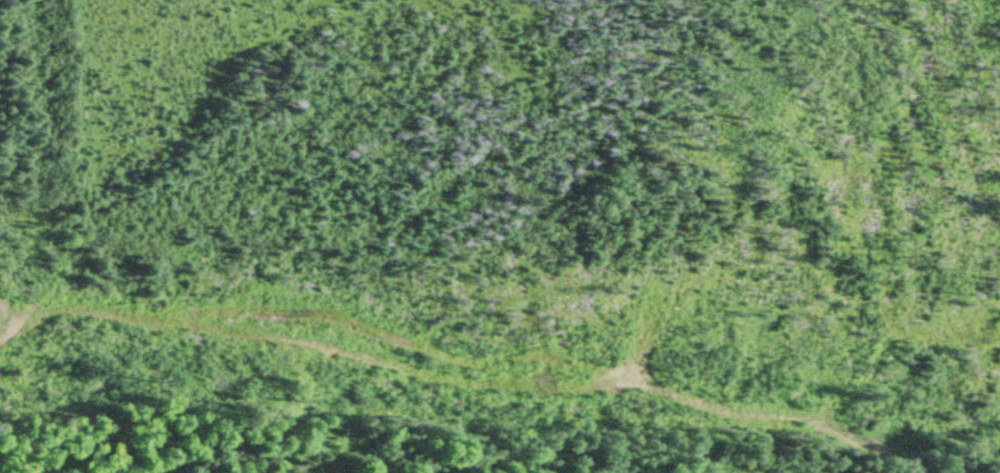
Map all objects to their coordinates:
road: (77, 150)

